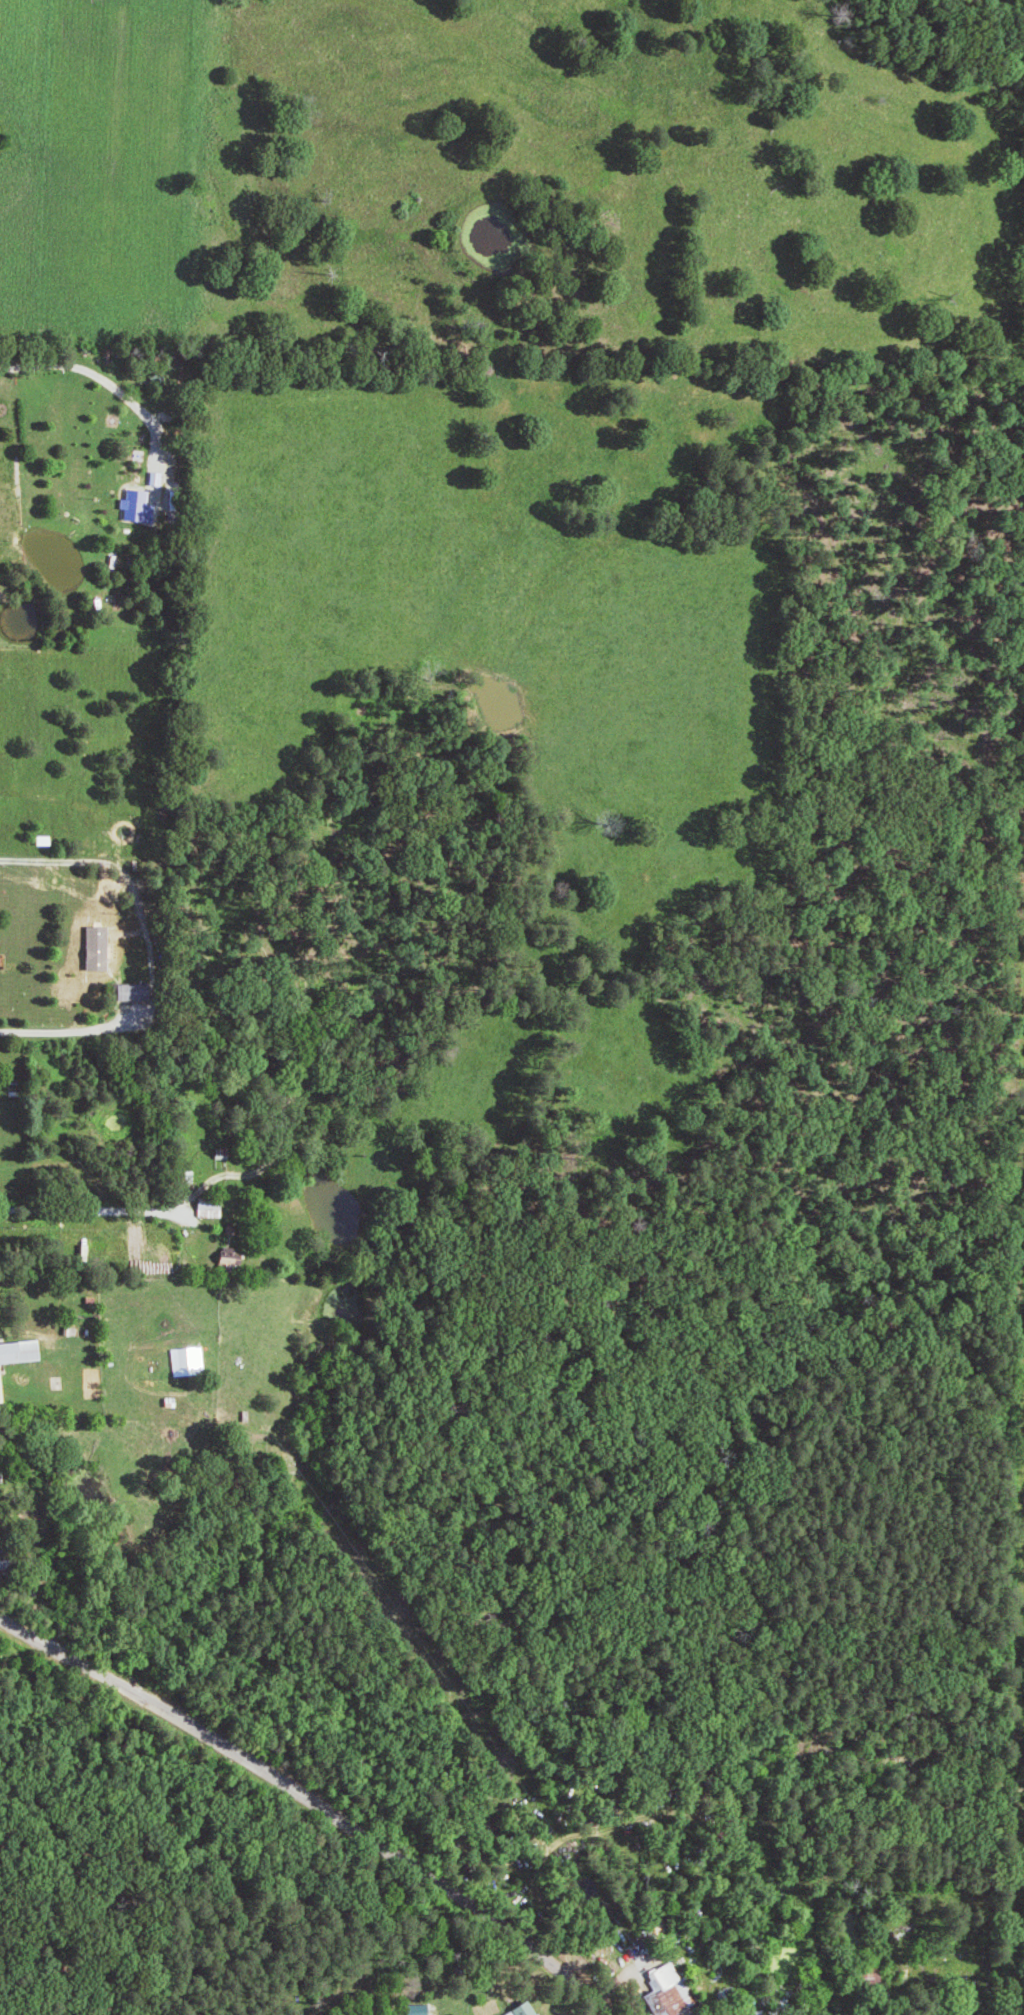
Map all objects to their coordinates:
road: (92, 366)
building: (141, 506)
building: (46, 839)
building: (100, 963)
building: (131, 991)
road: (65, 1031)
building: (188, 1176)
building: (212, 1207)
building: (235, 1257)
road: (95, 1274)
building: (16, 1358)
building: (191, 1360)
road: (316, 1803)
building: (672, 1991)
road: (684, 2007)
building: (421, 2009)
building: (525, 2010)

